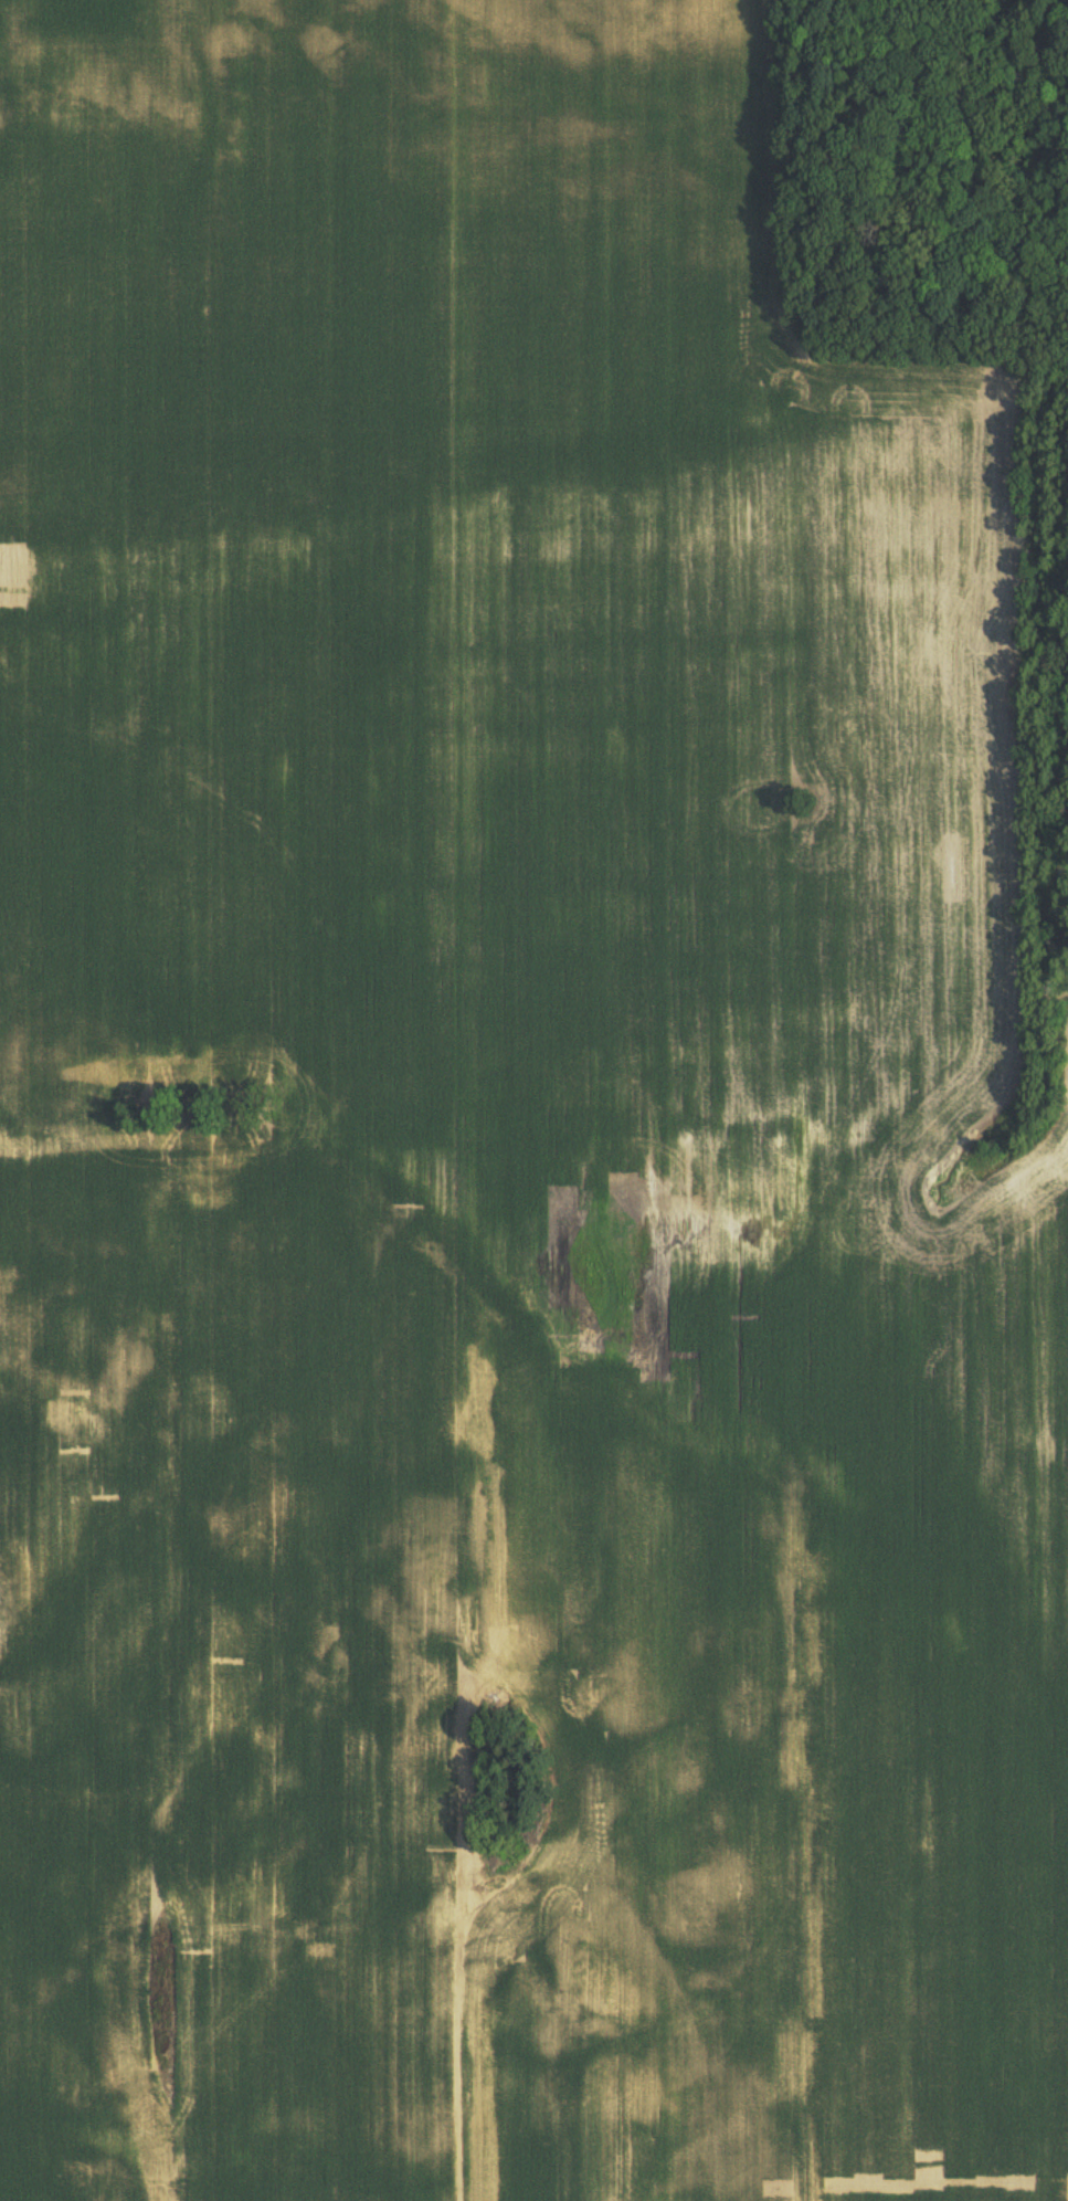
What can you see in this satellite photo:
road: (68, 1134)

